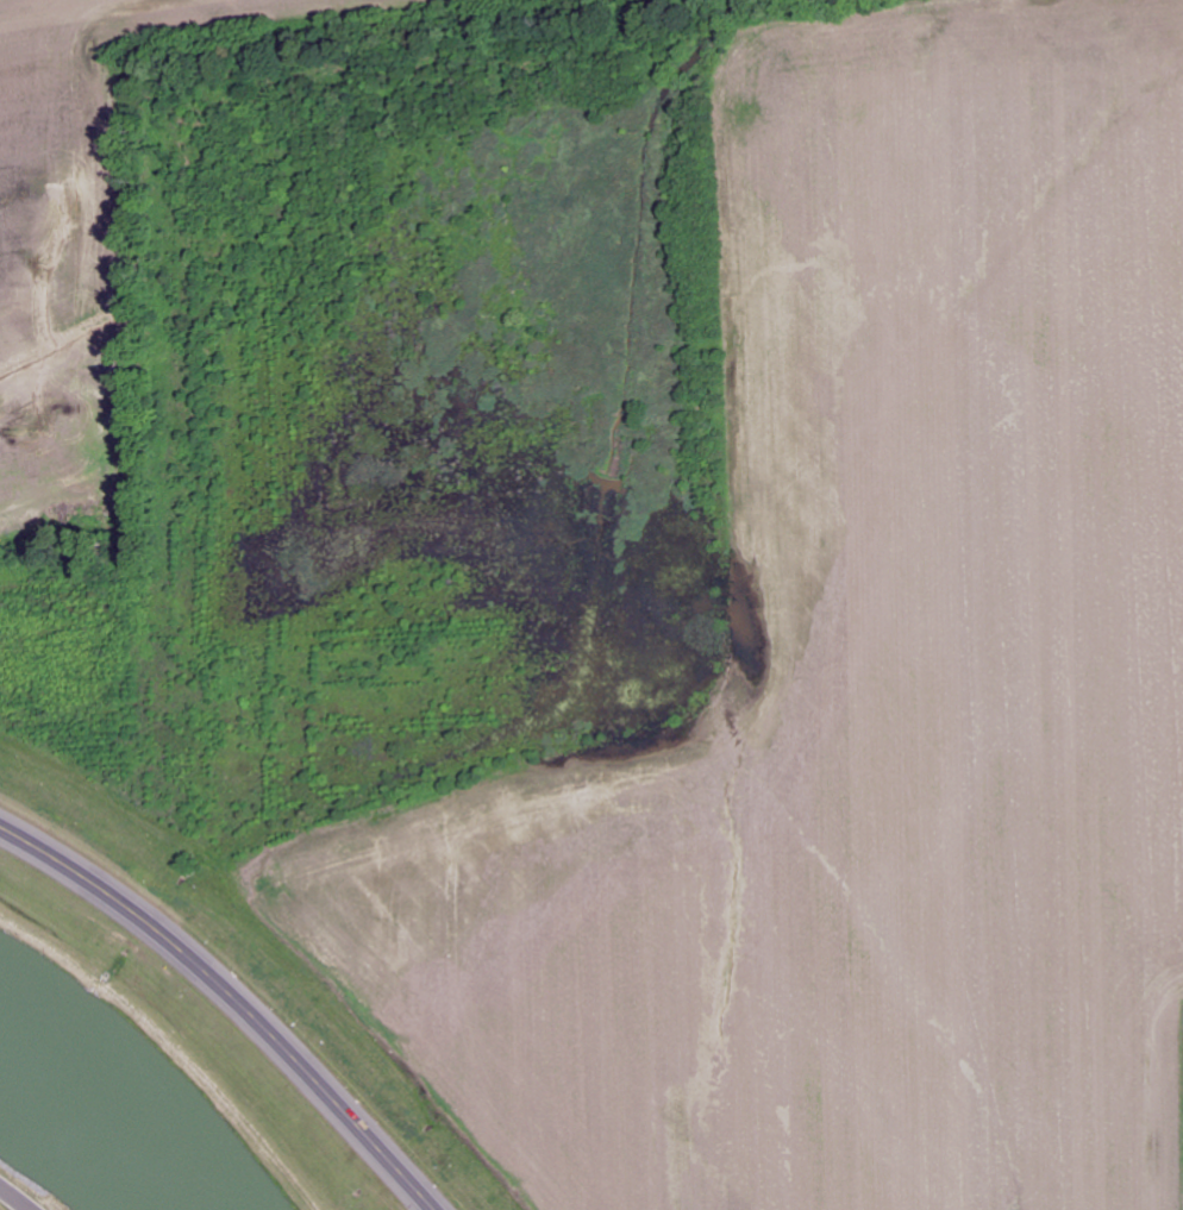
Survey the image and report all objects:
road: (236, 997)
road: (14, 1198)

